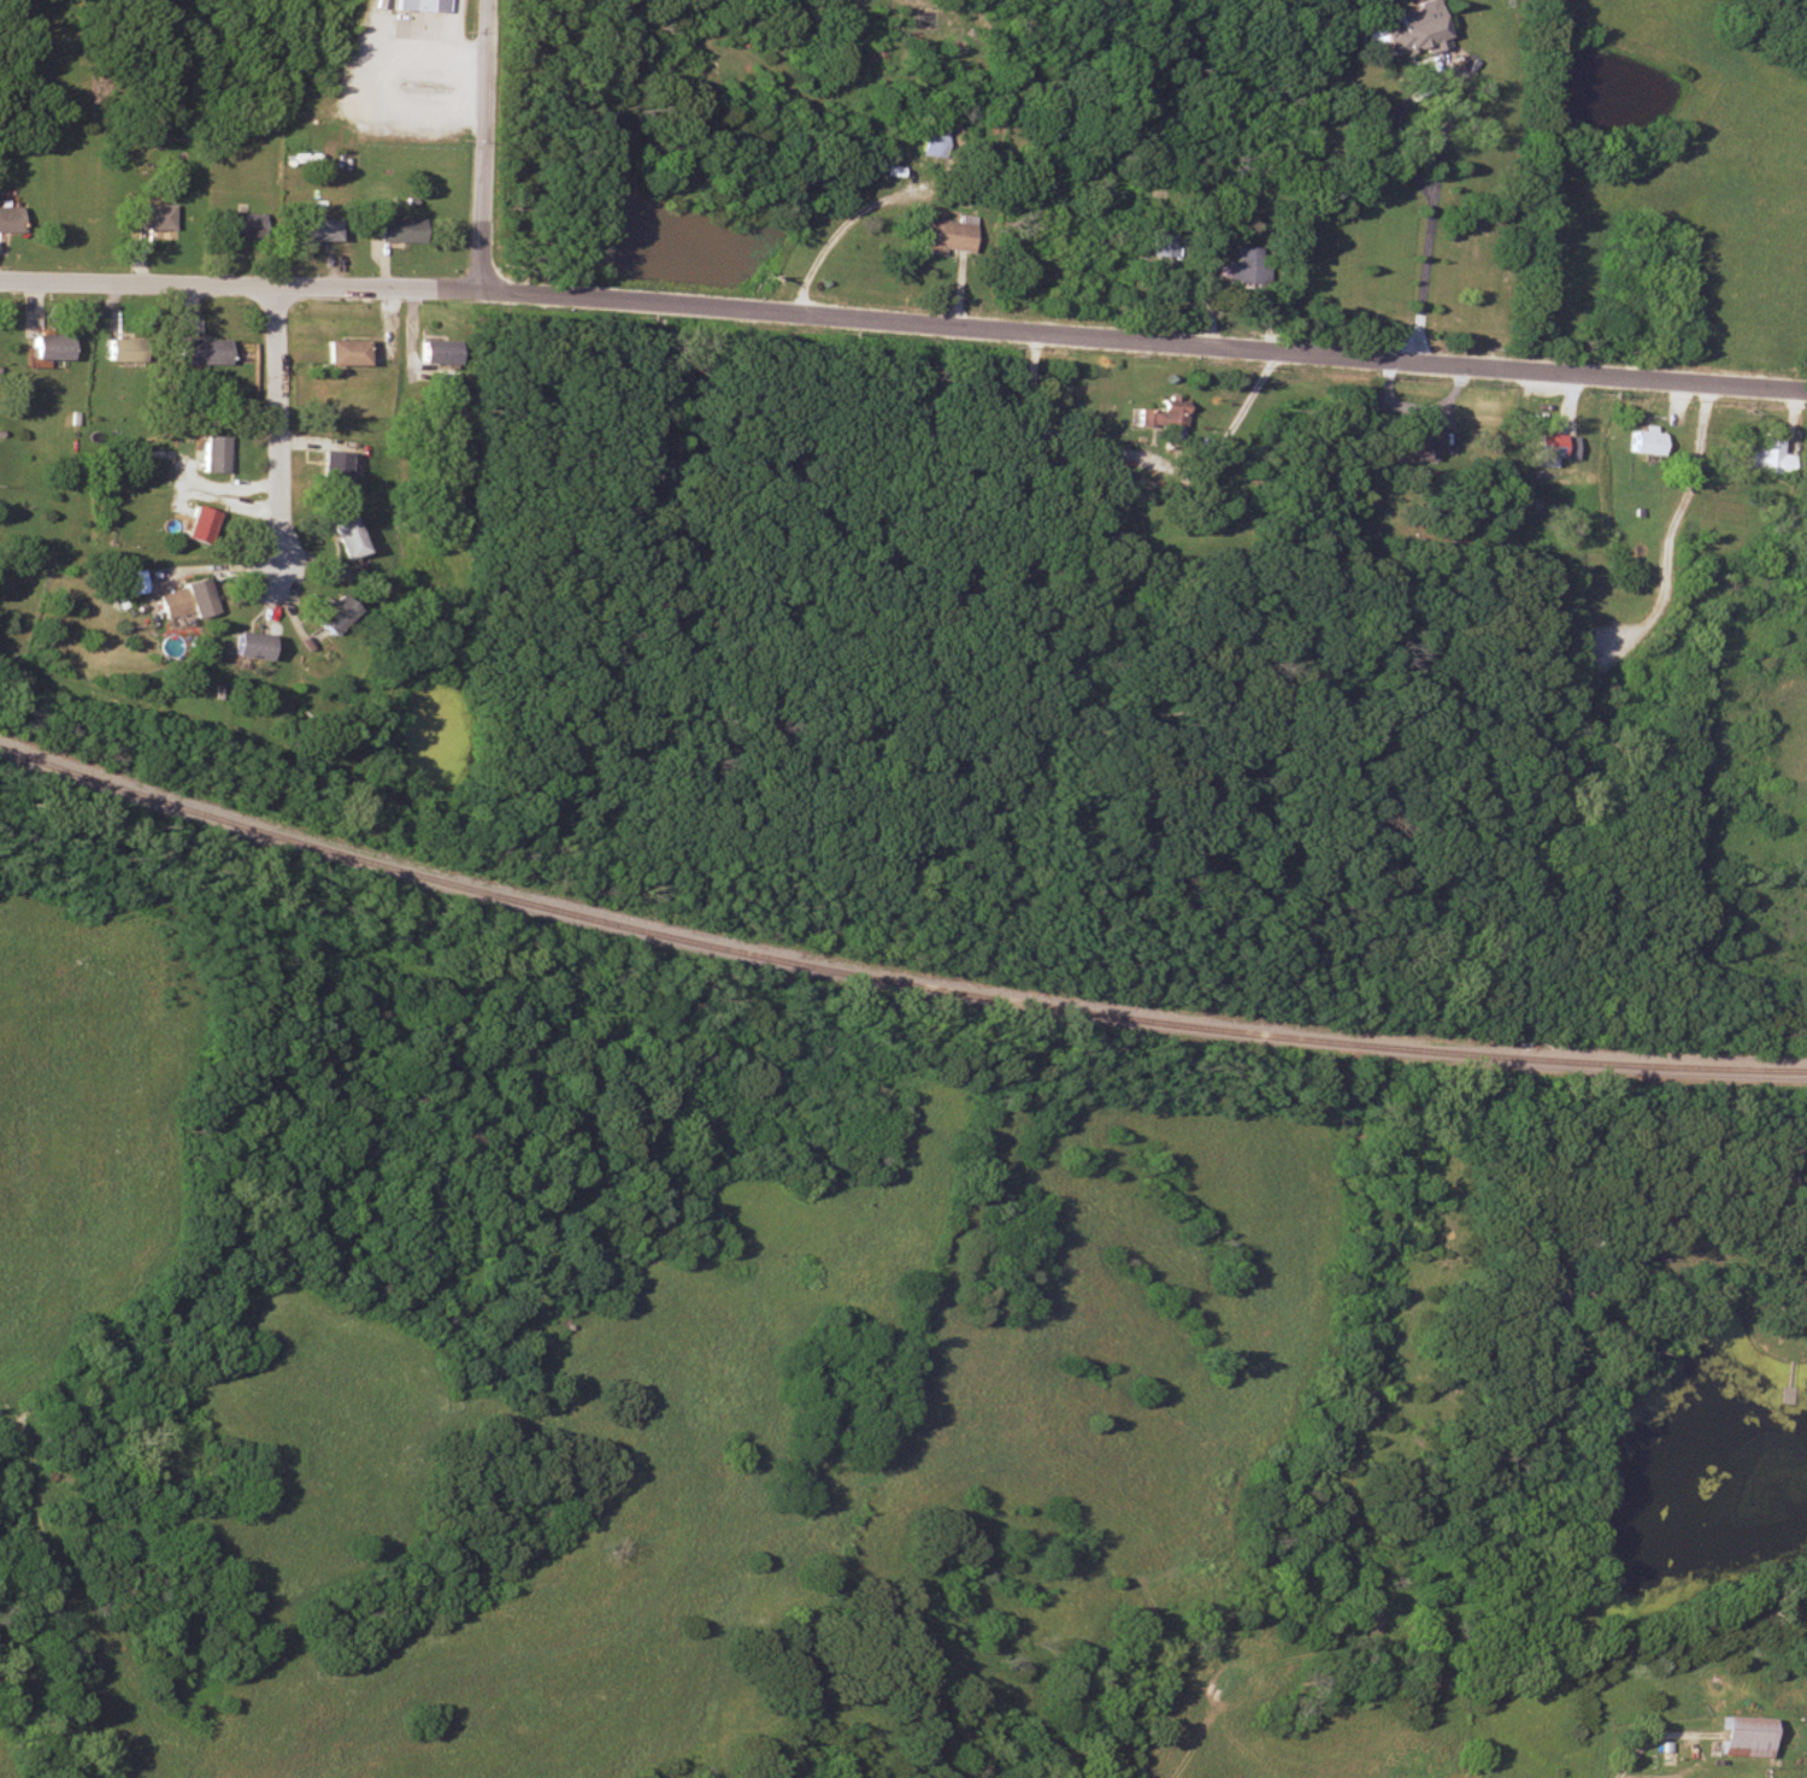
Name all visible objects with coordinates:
building: (418, 6)
building: (1406, 29)
building: (935, 136)
road: (487, 146)
building: (149, 216)
building: (7, 219)
building: (237, 224)
building: (313, 229)
building: (396, 230)
building: (943, 234)
building: (1164, 243)
building: (1247, 266)
road: (904, 322)
building: (42, 345)
building: (118, 348)
building: (194, 349)
building: (337, 349)
building: (435, 351)
building: (1160, 418)
road: (275, 429)
building: (1643, 441)
building: (1412, 444)
building: (1566, 446)
building: (1542, 448)
building: (211, 453)
building: (1766, 455)
building: (324, 466)
building: (196, 523)
building: (339, 536)
building: (128, 581)
building: (181, 599)
building: (326, 613)
building: (243, 643)
railway: (891, 973)
building: (1799, 1285)
building: (1740, 1736)

